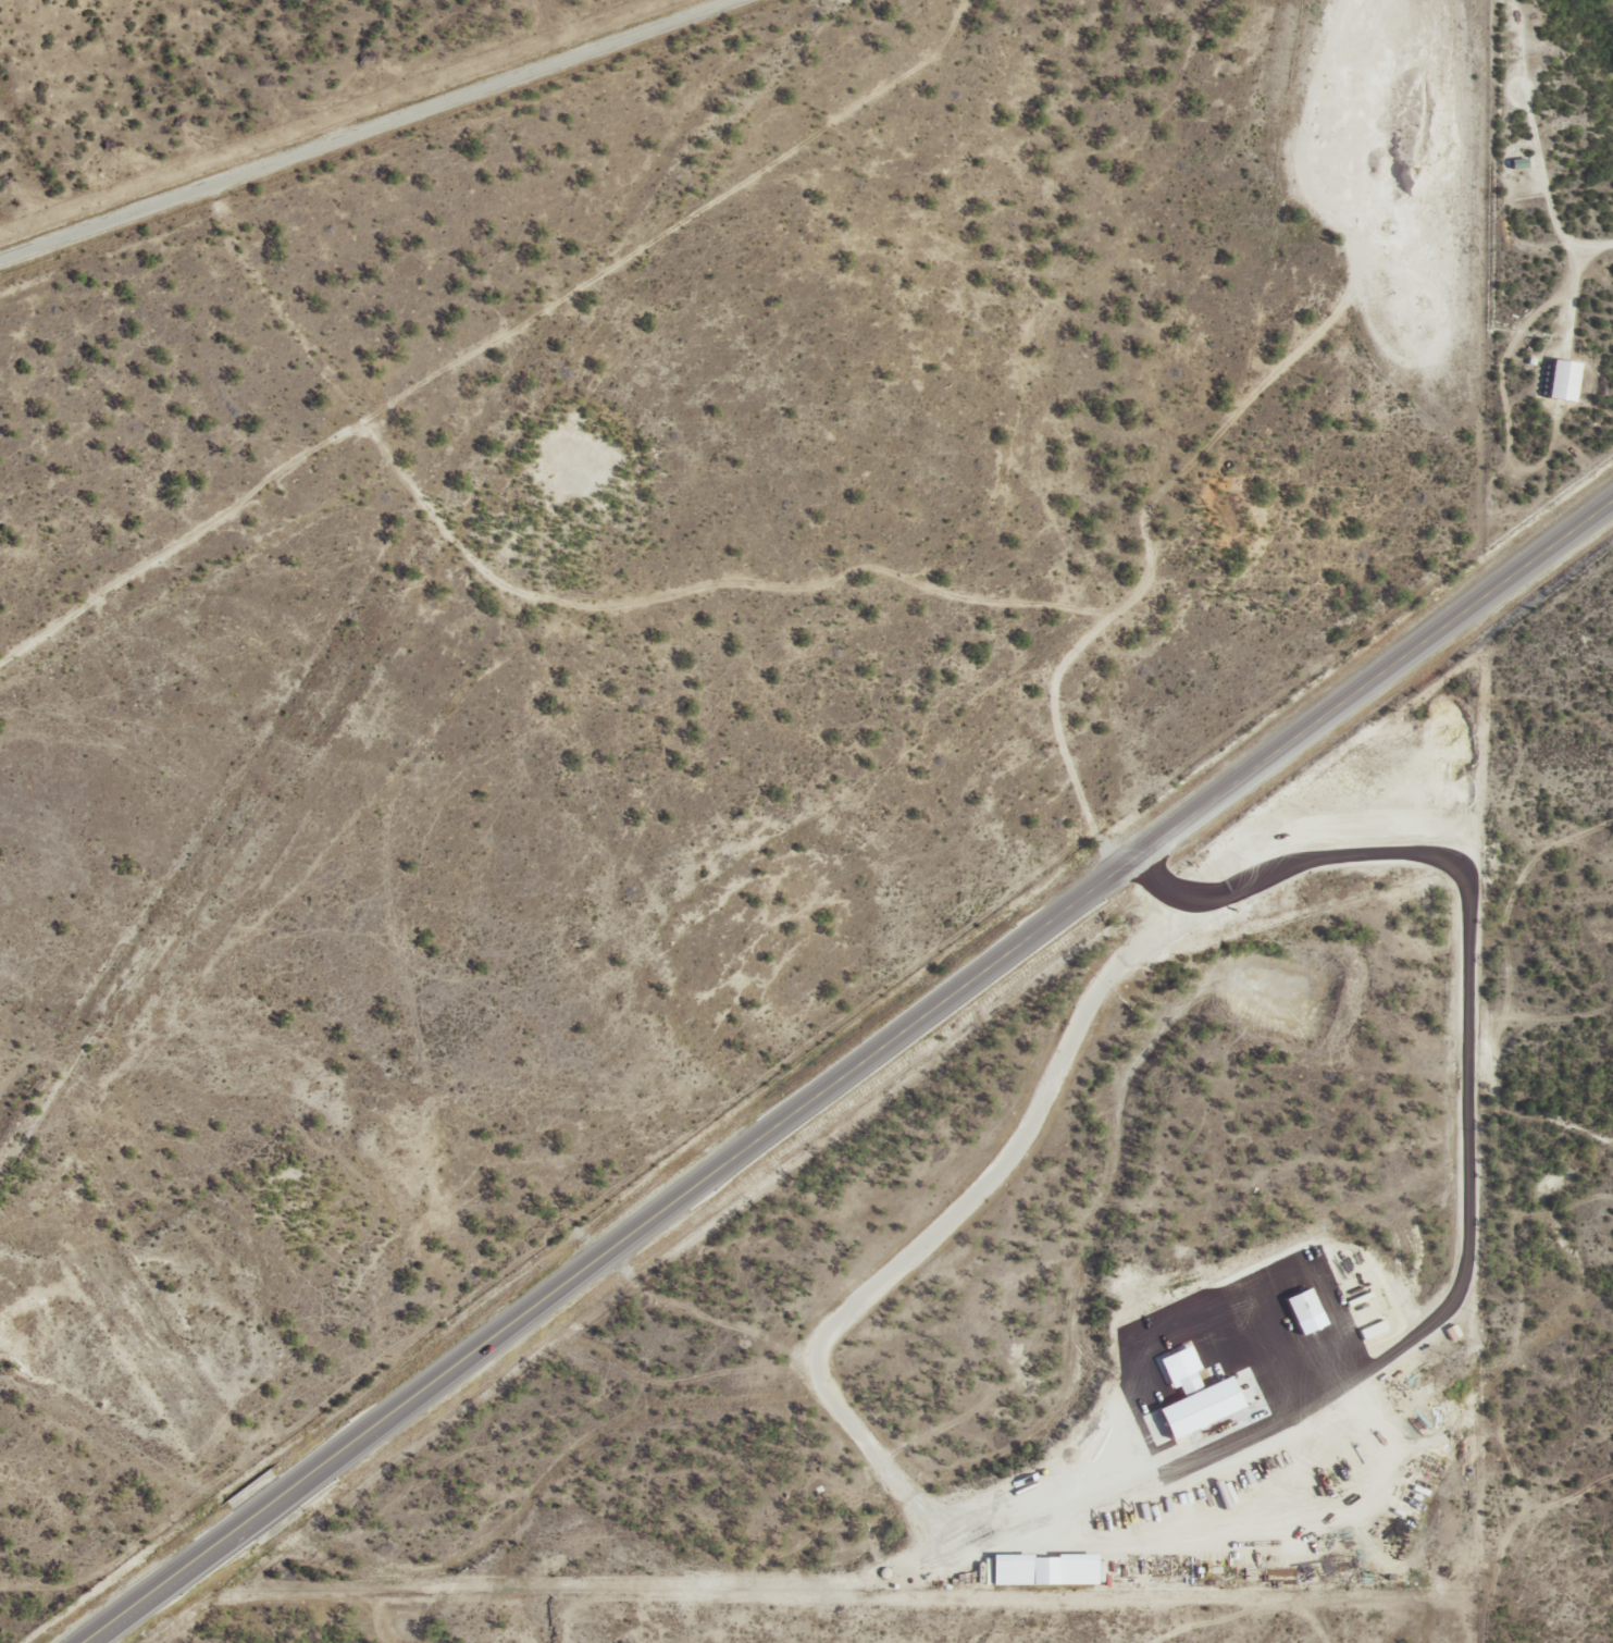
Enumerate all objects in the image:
road: (1604, 13)
road: (431, 124)
building: (1558, 379)
road: (856, 1076)
building: (1298, 1304)
building: (1189, 1394)
building: (1039, 1569)

